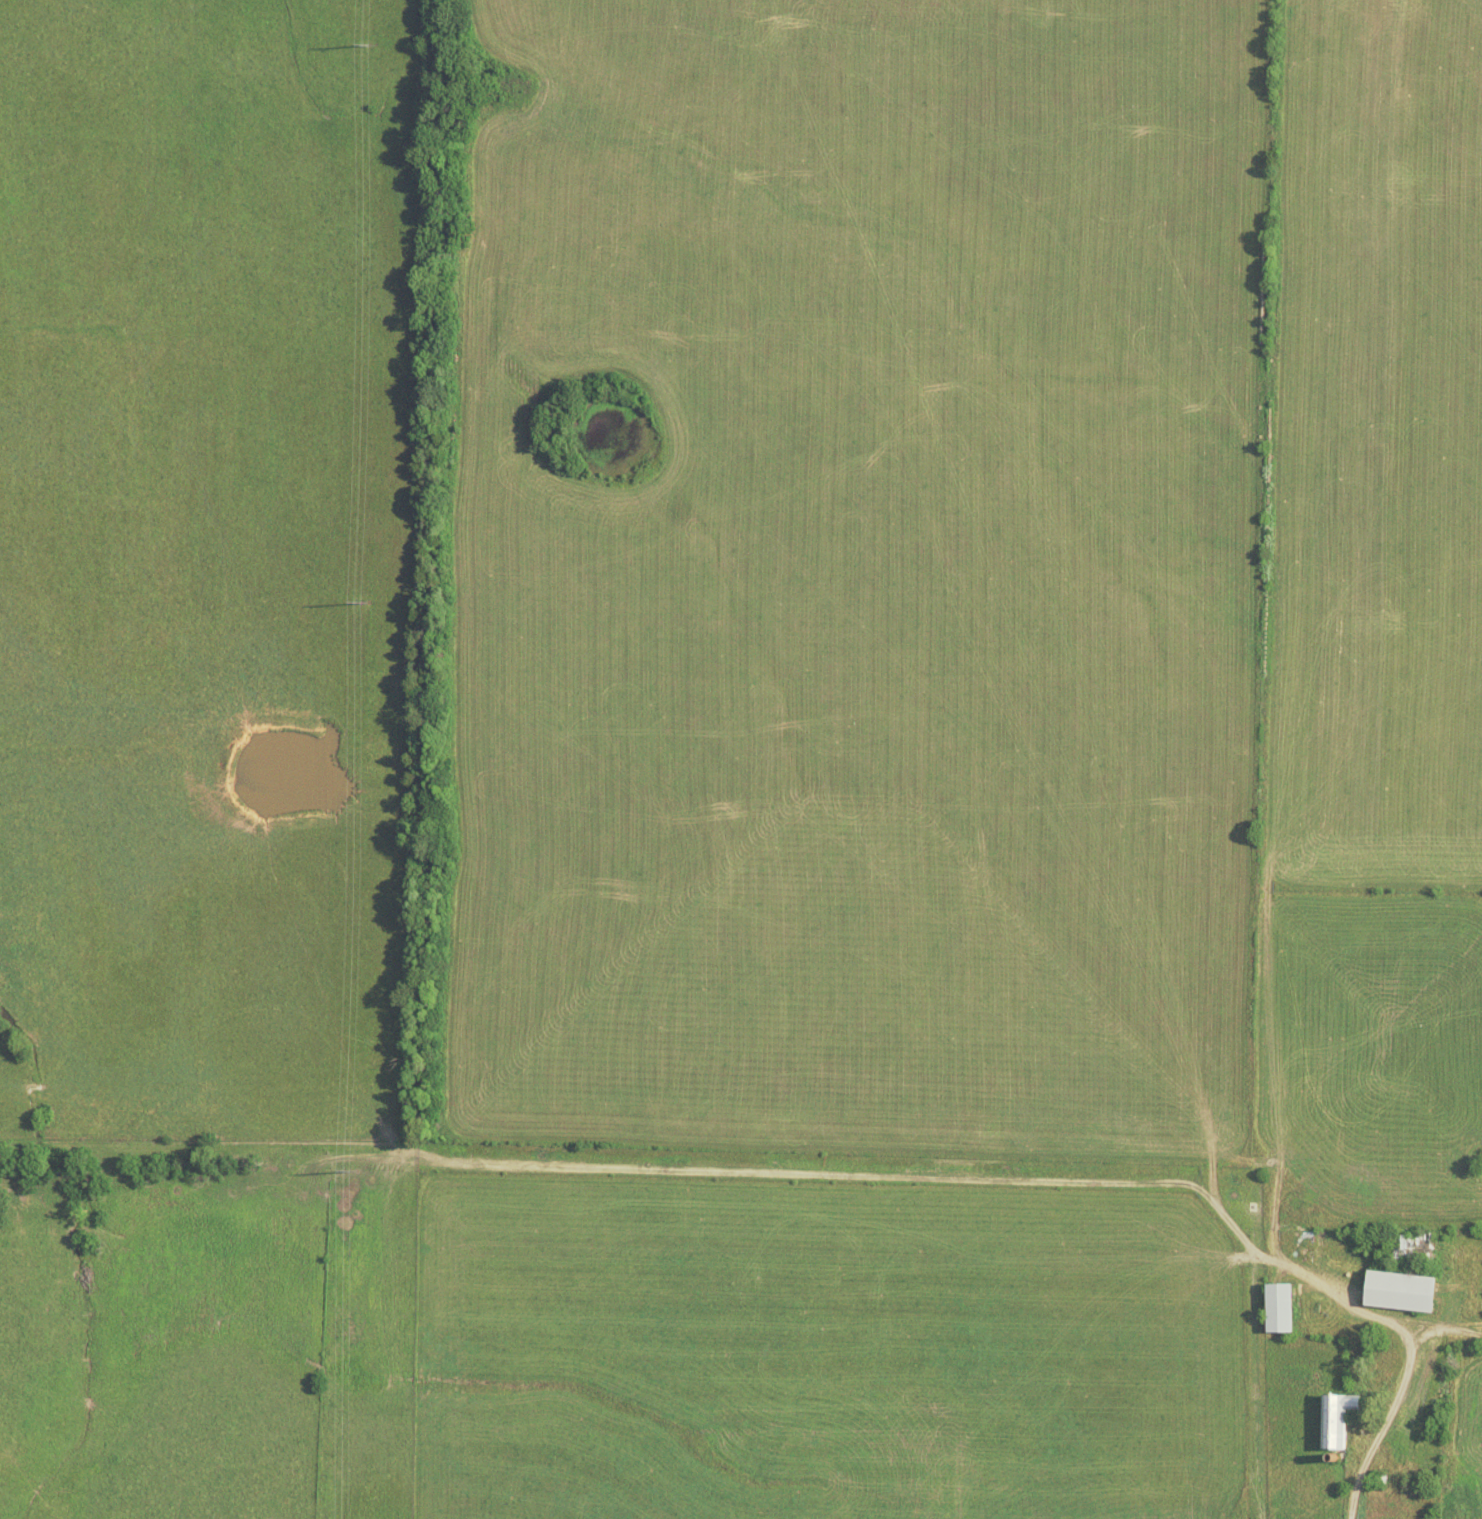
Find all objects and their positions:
power tower: (369, 45)
power tower: (363, 603)
power tower: (370, 1171)
building: (1408, 1249)
building: (1395, 1291)
building: (1275, 1308)
road: (1461, 1334)
building: (1335, 1420)

